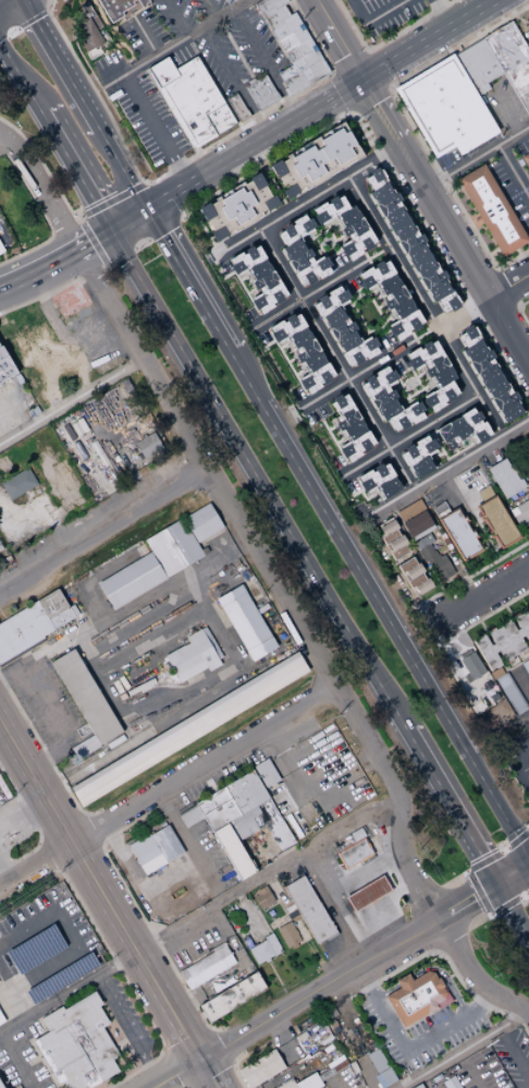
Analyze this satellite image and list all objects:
building: (128, 0)
road: (48, 1)
building: (116, 1)
building: (226, 1)
road: (4, 2)
building: (139, 2)
building: (123, 4)
building: (267, 4)
building: (112, 8)
building: (128, 9)
building: (104, 10)
road: (211, 10)
building: (275, 14)
road: (443, 14)
road: (24, 16)
road: (176, 19)
road: (373, 19)
traffic signals: (34, 22)
building: (285, 26)
building: (89, 32)
road: (113, 34)
road: (144, 36)
building: (291, 38)
road: (340, 40)
road: (384, 41)
road: (432, 41)
road: (111, 49)
road: (167, 49)
building: (297, 49)
building: (510, 60)
road: (348, 61)
road: (60, 63)
building: (298, 63)
building: (477, 63)
road: (263, 67)
road: (377, 68)
building: (161, 71)
building: (311, 72)
road: (20, 80)
building: (249, 80)
building: (151, 81)
road: (235, 84)
building: (291, 85)
road: (389, 87)
building: (266, 89)
road: (340, 92)
building: (188, 93)
road: (340, 95)
building: (255, 96)
road: (369, 98)
building: (236, 107)
building: (444, 107)
road: (505, 109)
road: (349, 112)
building: (219, 119)
road: (408, 124)
road: (156, 130)
building: (196, 132)
road: (3, 146)
building: (525, 159)
road: (232, 160)
building: (315, 160)
road: (478, 160)
road: (184, 161)
road: (41, 166)
road: (123, 168)
road: (75, 172)
road: (514, 173)
road: (229, 184)
road: (427, 190)
road: (312, 195)
road: (164, 198)
road: (97, 206)
building: (235, 206)
traffic signals: (147, 210)
building: (491, 210)
park: (19, 213)
road: (179, 217)
road: (44, 219)
road: (128, 220)
building: (345, 226)
traffic signals: (110, 231)
road: (51, 235)
road: (90, 240)
building: (406, 240)
road: (84, 244)
road: (126, 246)
building: (1, 250)
building: (300, 253)
road: (392, 253)
road: (379, 255)
road: (29, 275)
road: (78, 277)
building: (257, 278)
road: (188, 281)
road: (507, 286)
road: (508, 287)
road: (42, 294)
road: (310, 294)
building: (390, 297)
building: (70, 300)
building: (328, 301)
building: (445, 303)
road: (519, 313)
road: (464, 315)
building: (76, 318)
road: (98, 331)
road: (509, 333)
road: (426, 338)
building: (347, 339)
parking lot: (98, 342)
building: (302, 351)
road: (331, 354)
road: (112, 356)
building: (5, 366)
road: (507, 367)
road: (367, 372)
building: (432, 374)
building: (488, 376)
road: (467, 378)
building: (380, 392)
road: (71, 400)
road: (11, 403)
parking lot: (14, 404)
building: (404, 418)
building: (348, 428)
building: (460, 430)
road: (409, 435)
building: (147, 446)
building: (417, 458)
road: (450, 469)
building: (504, 479)
building: (378, 480)
road: (255, 482)
building: (17, 484)
building: (518, 494)
building: (408, 509)
building: (440, 510)
building: (520, 515)
building: (200, 522)
building: (496, 522)
building: (416, 524)
road: (103, 532)
building: (458, 534)
building: (392, 541)
building: (172, 547)
building: (0, 548)
building: (432, 559)
road: (480, 569)
building: (414, 577)
building: (130, 580)
road: (272, 580)
road: (485, 593)
road: (379, 606)
building: (528, 608)
building: (73, 611)
road: (490, 613)
building: (33, 622)
building: (244, 622)
road: (423, 627)
road: (484, 631)
building: (503, 641)
building: (210, 642)
road: (493, 646)
building: (190, 656)
building: (469, 665)
road: (508, 669)
building: (527, 670)
building: (494, 673)
road: (520, 680)
building: (508, 691)
building: (85, 697)
railway: (157, 721)
road: (516, 723)
building: (187, 728)
building: (85, 747)
road: (524, 751)
road: (45, 753)
road: (288, 754)
gas station: (516, 761)
road: (524, 763)
building: (264, 773)
road: (167, 786)
building: (245, 793)
building: (210, 800)
road: (445, 809)
road: (21, 812)
road: (84, 815)
building: (188, 815)
building: (220, 815)
building: (264, 815)
road: (34, 824)
building: (243, 824)
building: (292, 826)
road: (527, 826)
road: (90, 830)
road: (63, 831)
building: (280, 836)
road: (194, 842)
road: (41, 843)
road: (101, 843)
building: (165, 844)
building: (233, 853)
road: (499, 853)
building: (145, 854)
building: (353, 854)
road: (51, 856)
road: (79, 856)
road: (4, 871)
road: (59, 871)
road: (132, 871)
road: (366, 873)
road: (266, 874)
road: (456, 879)
gas station: (362, 881)
traffic signals: (490, 886)
road: (480, 892)
building: (366, 894)
building: (261, 898)
road: (380, 902)
road: (510, 903)
road: (335, 905)
road: (108, 906)
building: (308, 909)
road: (175, 911)
road: (248, 915)
road: (140, 917)
road: (509, 919)
road: (478, 921)
building: (286, 934)
road: (452, 938)
road: (75, 944)
road: (181, 945)
building: (272, 945)
building: (34, 950)
road: (439, 950)
building: (260, 953)
road: (113, 958)
road: (447, 963)
building: (206, 967)
road: (235, 971)
road: (341, 975)
road: (446, 977)
building: (60, 978)
road: (444, 979)
road: (403, 982)
road: (79, 983)
road: (279, 983)
road: (386, 993)
building: (231, 998)
building: (414, 998)
building: (443, 1001)
road: (17, 1004)
building: (1, 1019)
road: (12, 1024)
road: (125, 1030)
road: (212, 1031)
road: (188, 1043)
building: (75, 1044)
road: (219, 1047)
road: (408, 1050)
road: (462, 1050)
road: (163, 1052)
road: (290, 1052)
road: (513, 1055)
road: (15, 1061)
road: (231, 1062)
road: (233, 1067)
building: (380, 1067)
building: (260, 1068)
road: (177, 1069)
road: (468, 1069)
road: (207, 1073)
road: (528, 1080)
building: (450, 1083)
building: (0, 1085)
building: (286, 1085)
building: (417, 1086)
road: (187, 1087)
road: (431, 1087)
road: (527, 1087)

